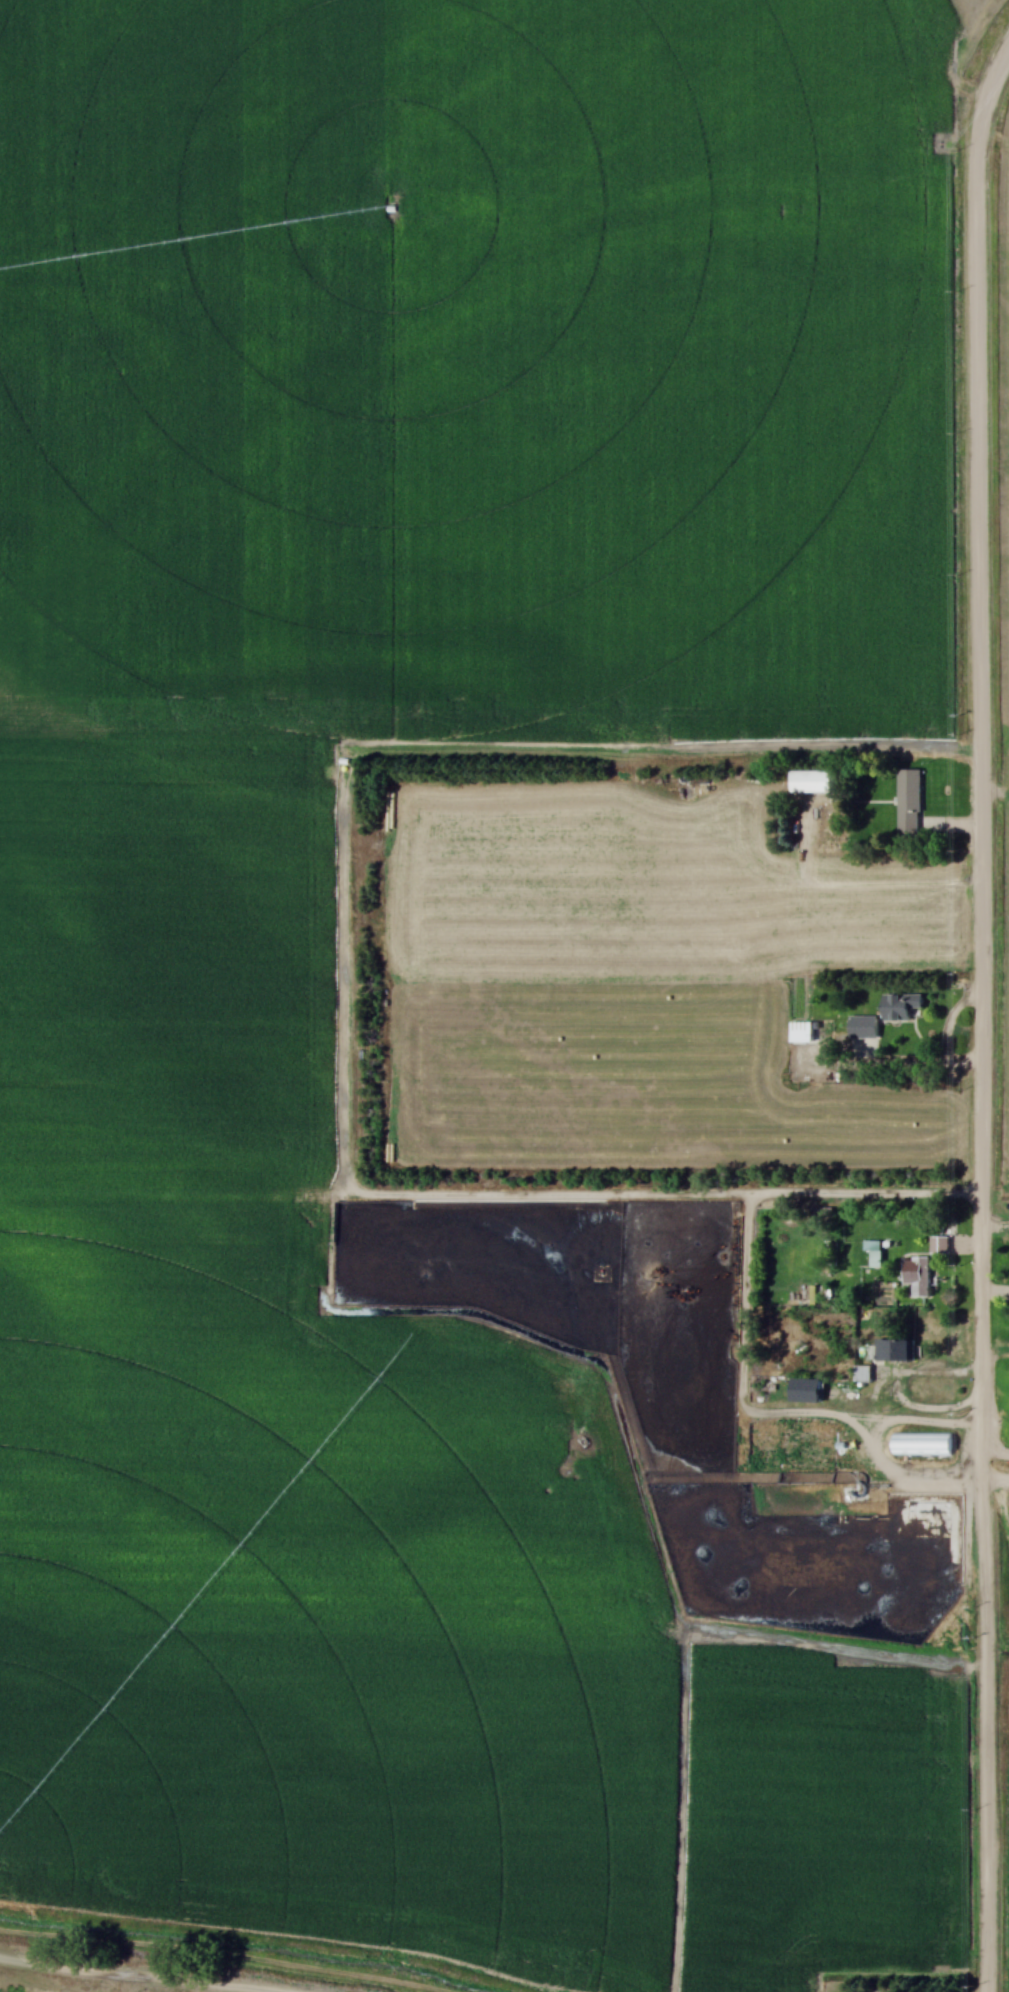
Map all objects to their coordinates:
crop: (951, 7)
crop: (1004, 370)
building: (813, 778)
building: (911, 798)
road: (856, 883)
crop: (165, 953)
crop: (631, 977)
building: (899, 1006)
road: (982, 1017)
building: (866, 1022)
building: (805, 1029)
road: (924, 1062)
building: (872, 1247)
building: (916, 1276)
building: (894, 1350)
building: (861, 1373)
building: (809, 1387)
road: (756, 1412)
road: (991, 1416)
building: (921, 1444)
road: (903, 1477)
crop: (824, 1812)

